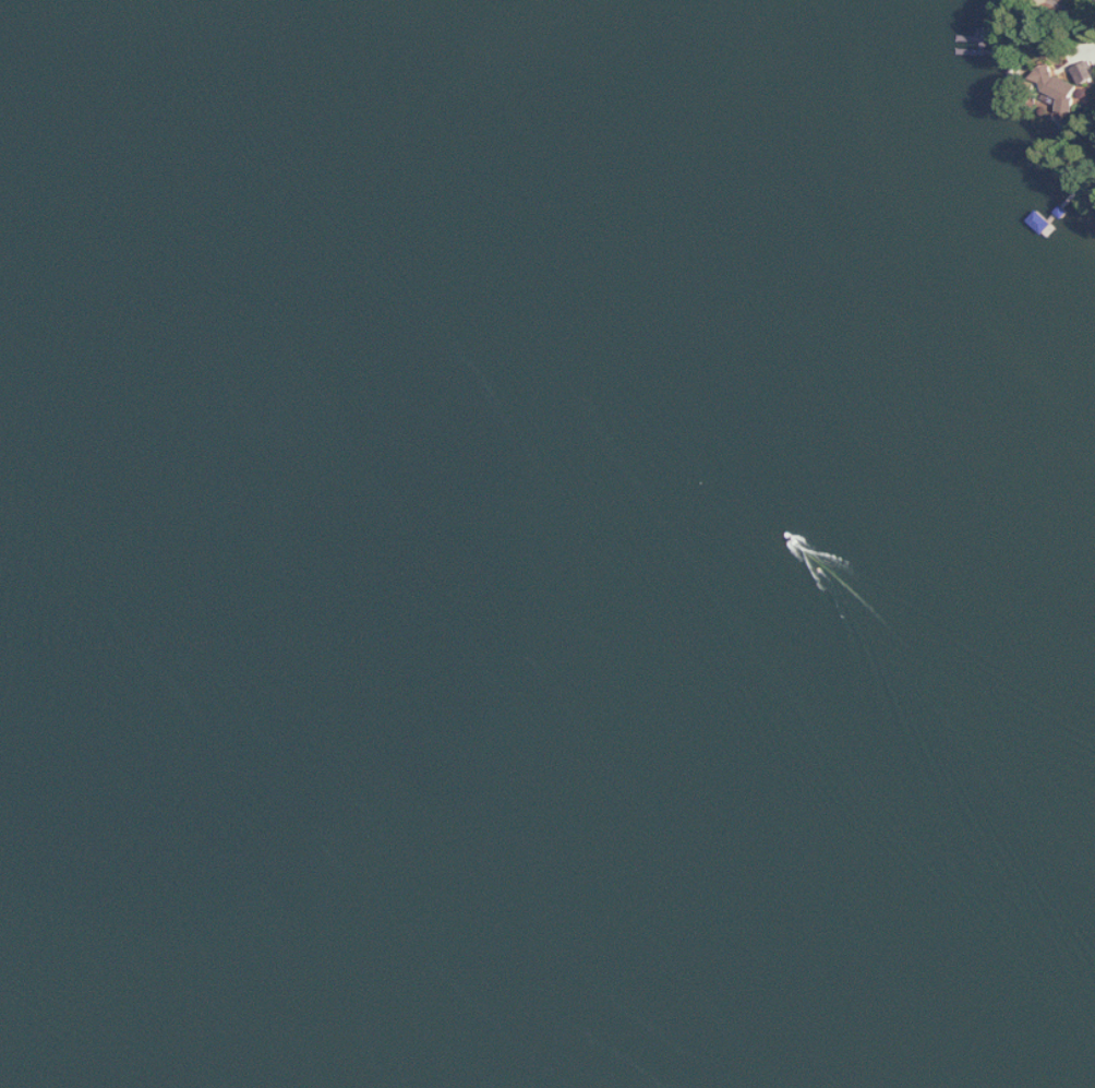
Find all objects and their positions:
building: (1059, 86)
river: (522, 654)

